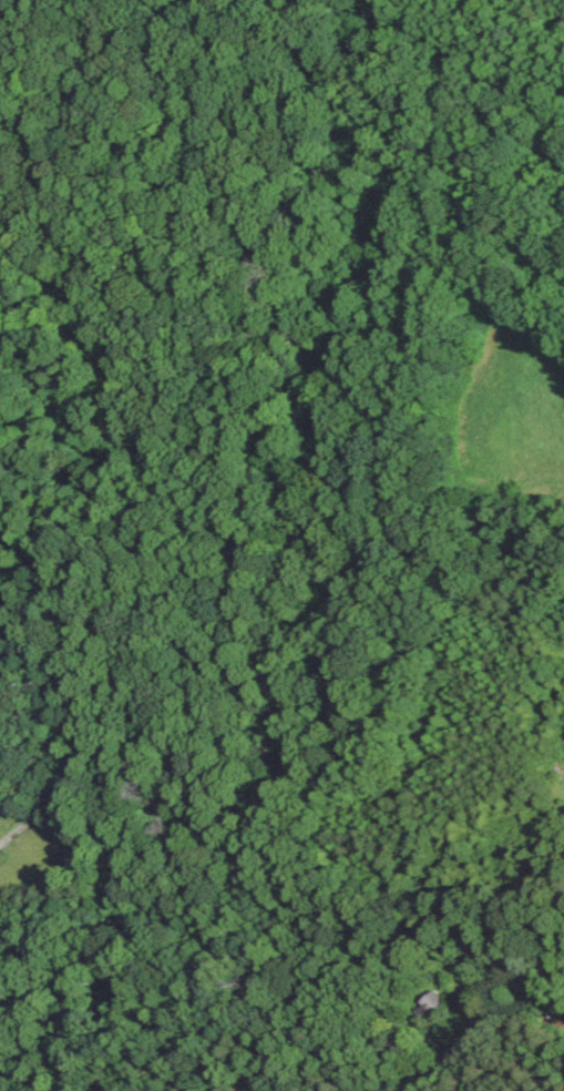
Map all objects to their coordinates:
road: (80, 776)
building: (434, 1007)
road: (502, 1023)

